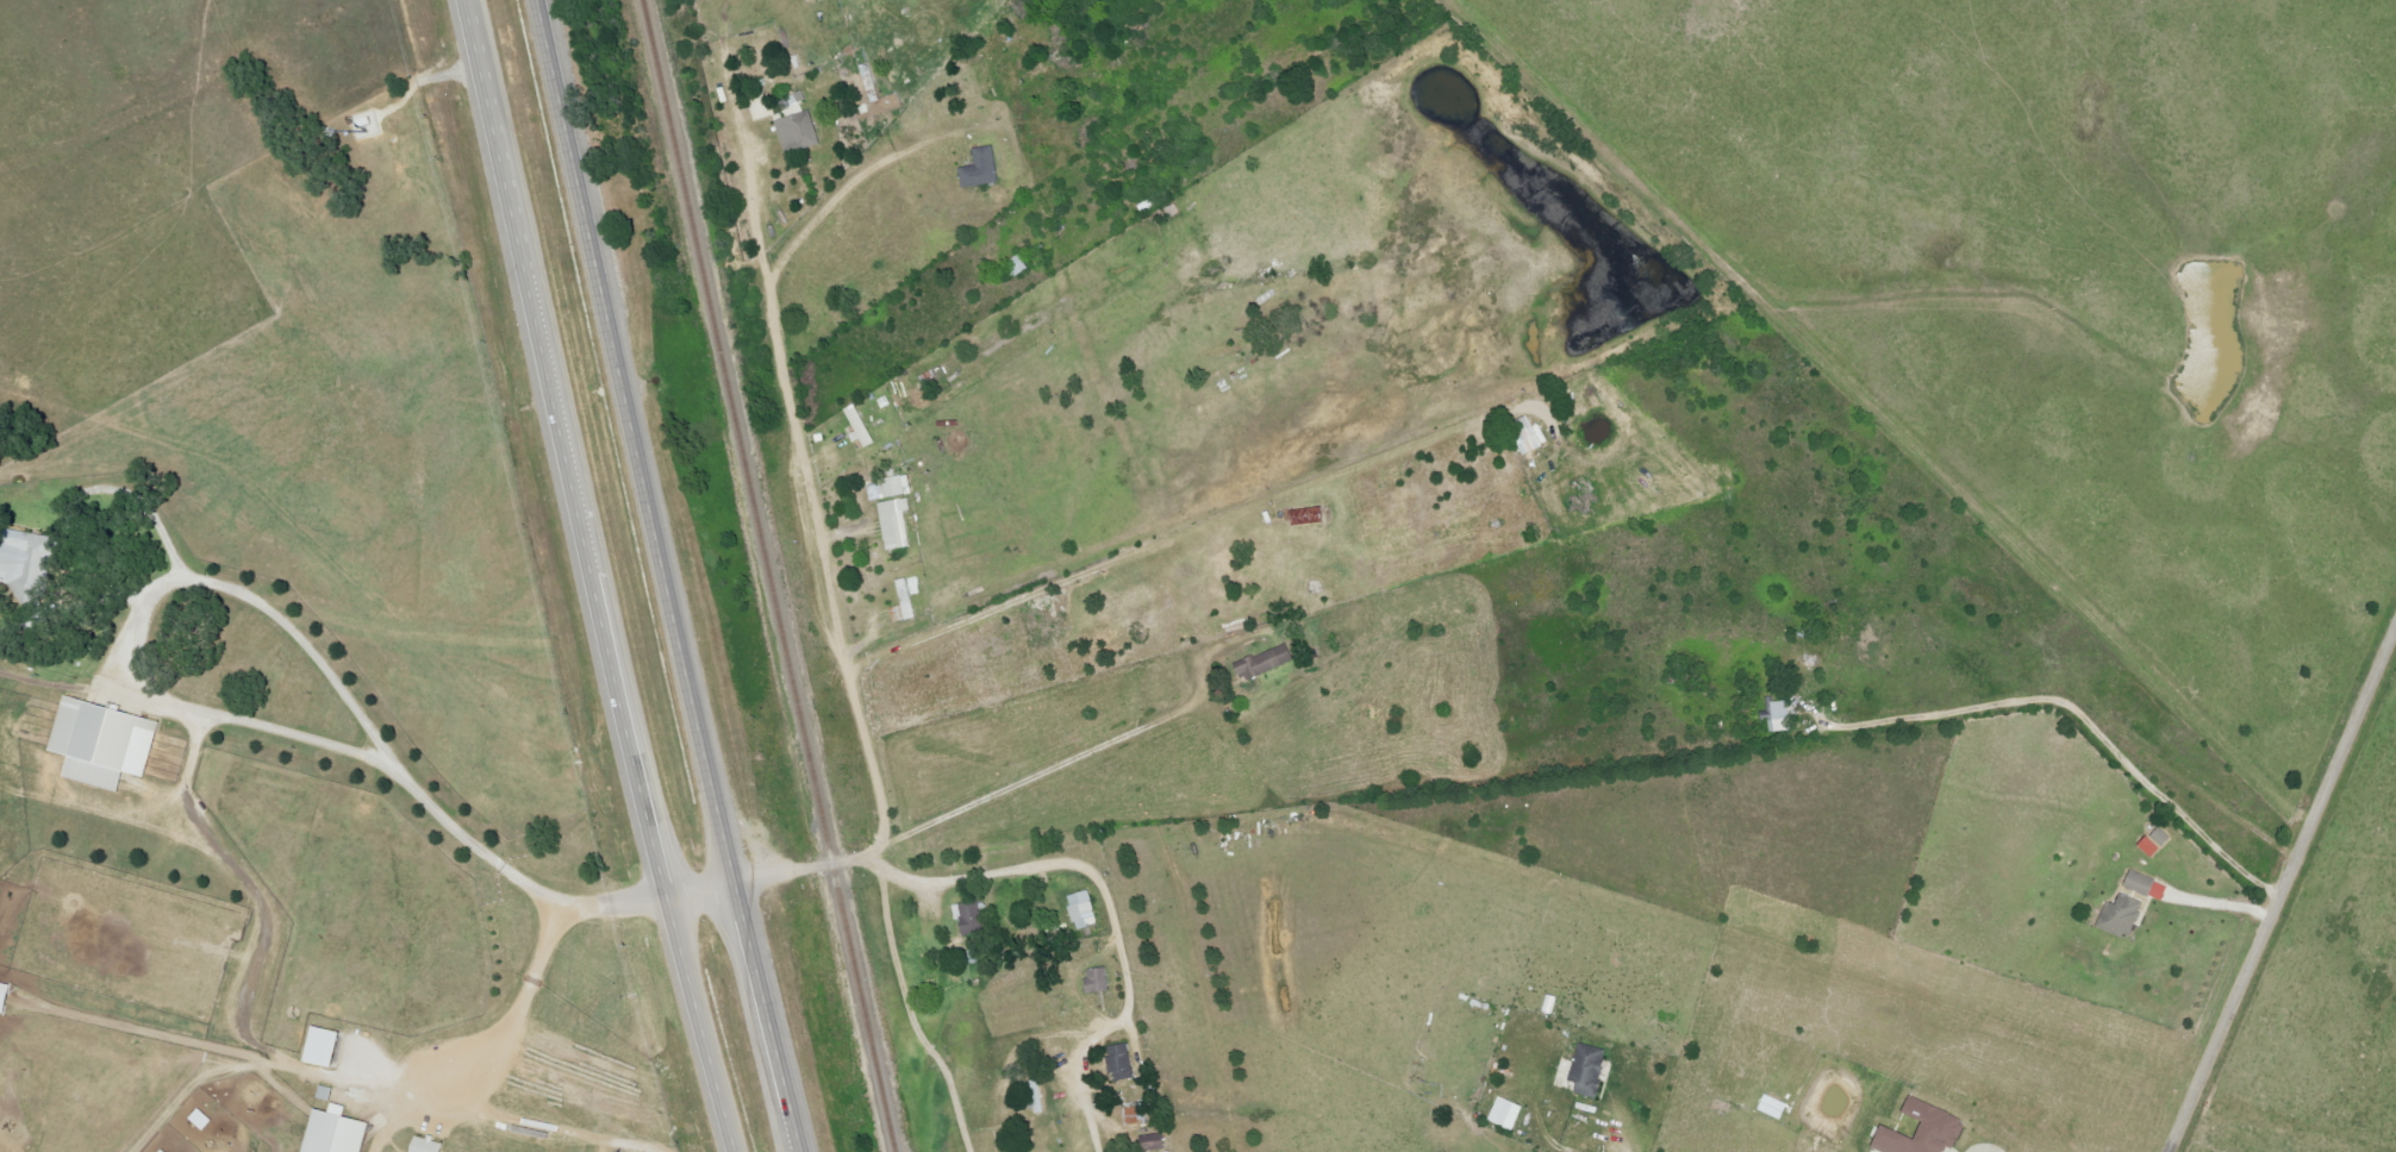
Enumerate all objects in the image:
building: (811, 0)
building: (762, 108)
building: (793, 136)
building: (979, 171)
road: (829, 207)
building: (861, 426)
road: (790, 431)
building: (1531, 439)
building: (892, 488)
building: (898, 524)
building: (31, 563)
road: (584, 576)
road: (667, 576)
railway: (762, 576)
building: (909, 600)
road: (987, 615)
building: (1268, 663)
road: (161, 705)
building: (1782, 716)
road: (2084, 722)
building: (107, 743)
road: (1019, 774)
building: (2159, 841)
road: (1047, 864)
building: (2149, 885)
road: (2283, 891)
road: (693, 895)
road: (2214, 907)
building: (1085, 910)
building: (2111, 914)
building: (972, 920)
building: (1100, 981)
road: (529, 991)
building: (6, 996)
road: (909, 1016)
building: (327, 1047)
building: (1123, 1063)
building: (1592, 1069)
building: (326, 1092)
building: (1776, 1107)
building: (1510, 1114)
building: (1137, 1115)
building: (204, 1120)
building: (1927, 1132)
building: (333, 1137)
building: (1156, 1142)
building: (424, 1147)
road: (1593, 1147)

